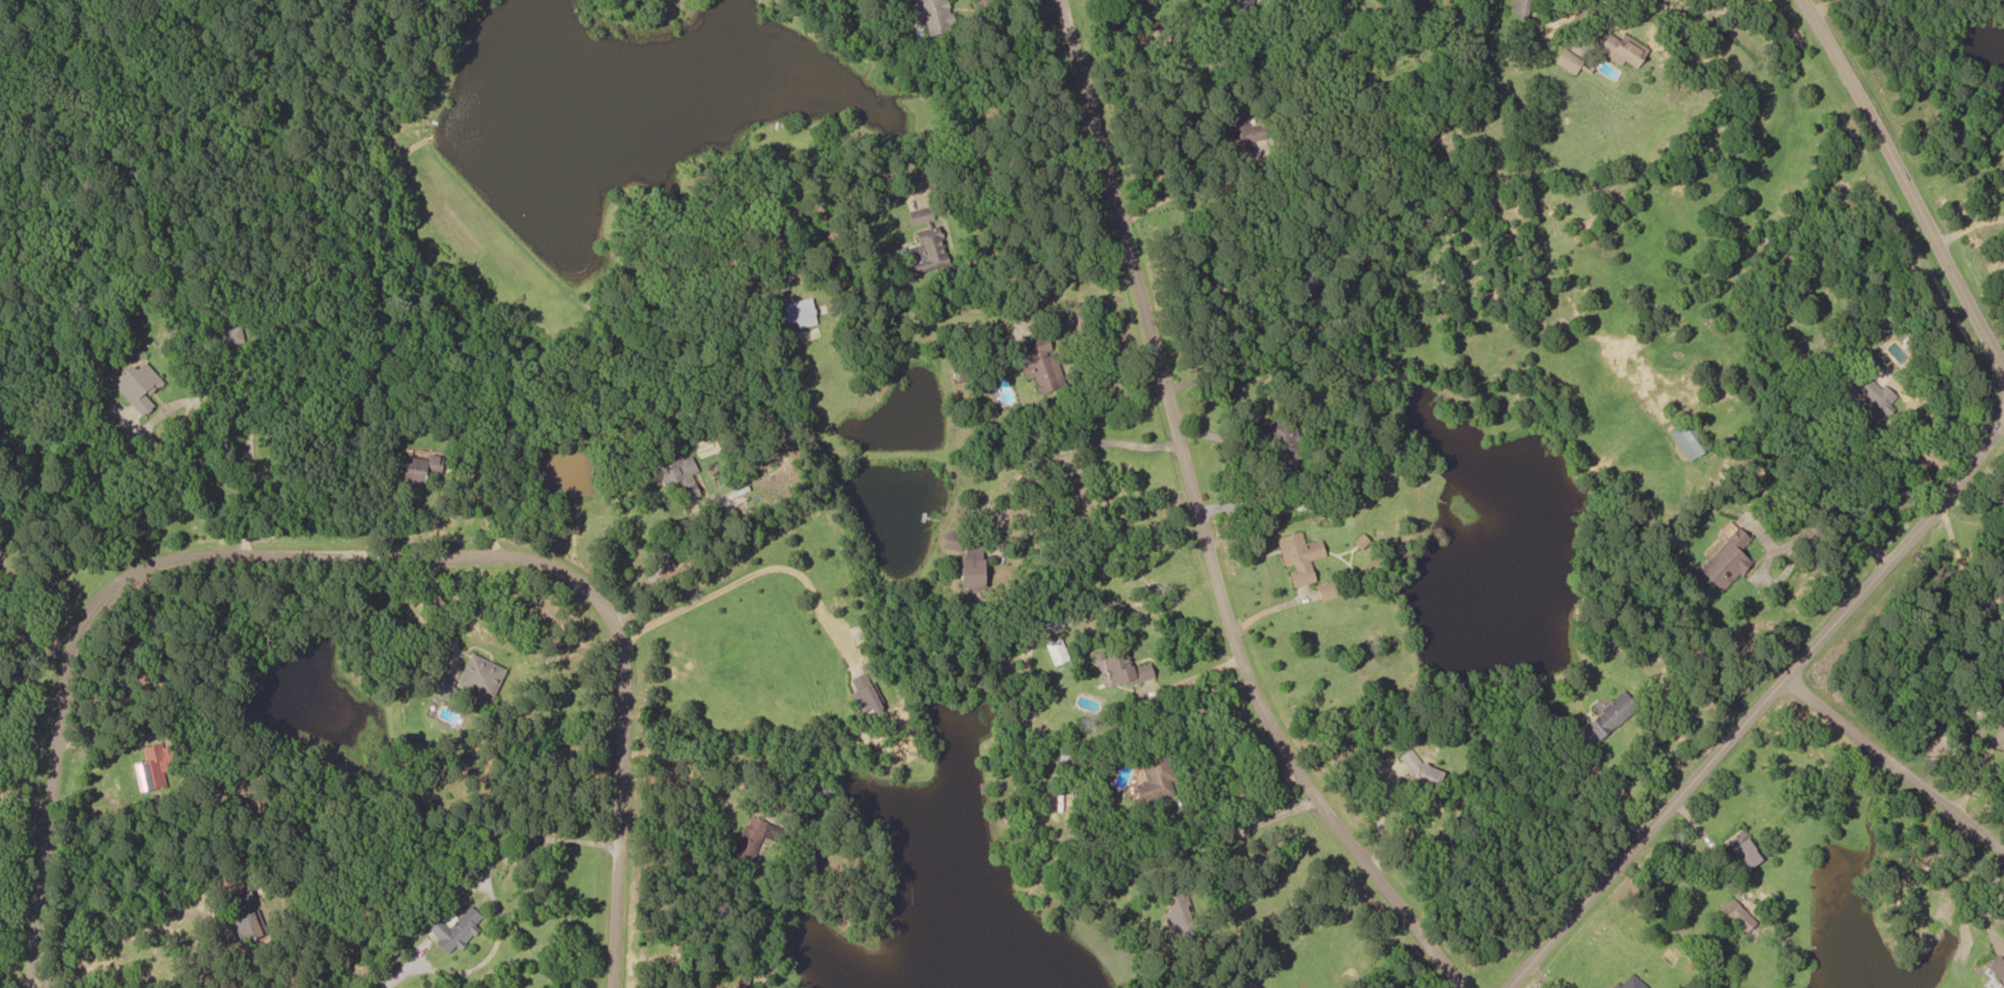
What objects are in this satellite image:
building: (1239, 3)
building: (1518, 6)
building: (930, 14)
building: (1622, 50)
building: (1567, 61)
building: (1241, 130)
road: (1914, 189)
building: (926, 234)
building: (1304, 278)
building: (800, 313)
building: (233, 337)
building: (1038, 364)
building: (141, 386)
building: (1872, 400)
building: (1686, 438)
building: (1281, 440)
building: (417, 470)
building: (674, 472)
road: (1204, 520)
road: (328, 538)
building: (1298, 558)
building: (1725, 558)
building: (965, 561)
building: (1327, 590)
building: (1604, 640)
building: (1056, 652)
building: (1123, 670)
building: (480, 677)
building: (864, 694)
road: (1756, 701)
building: (1610, 714)
road: (1890, 757)
building: (150, 769)
building: (1422, 771)
building: (1154, 777)
road: (1238, 798)
road: (1381, 815)
road: (1258, 823)
building: (747, 841)
building: (1742, 850)
building: (245, 915)
building: (1176, 915)
building: (1738, 916)
building: (453, 929)
building: (1997, 970)
building: (743, 982)

